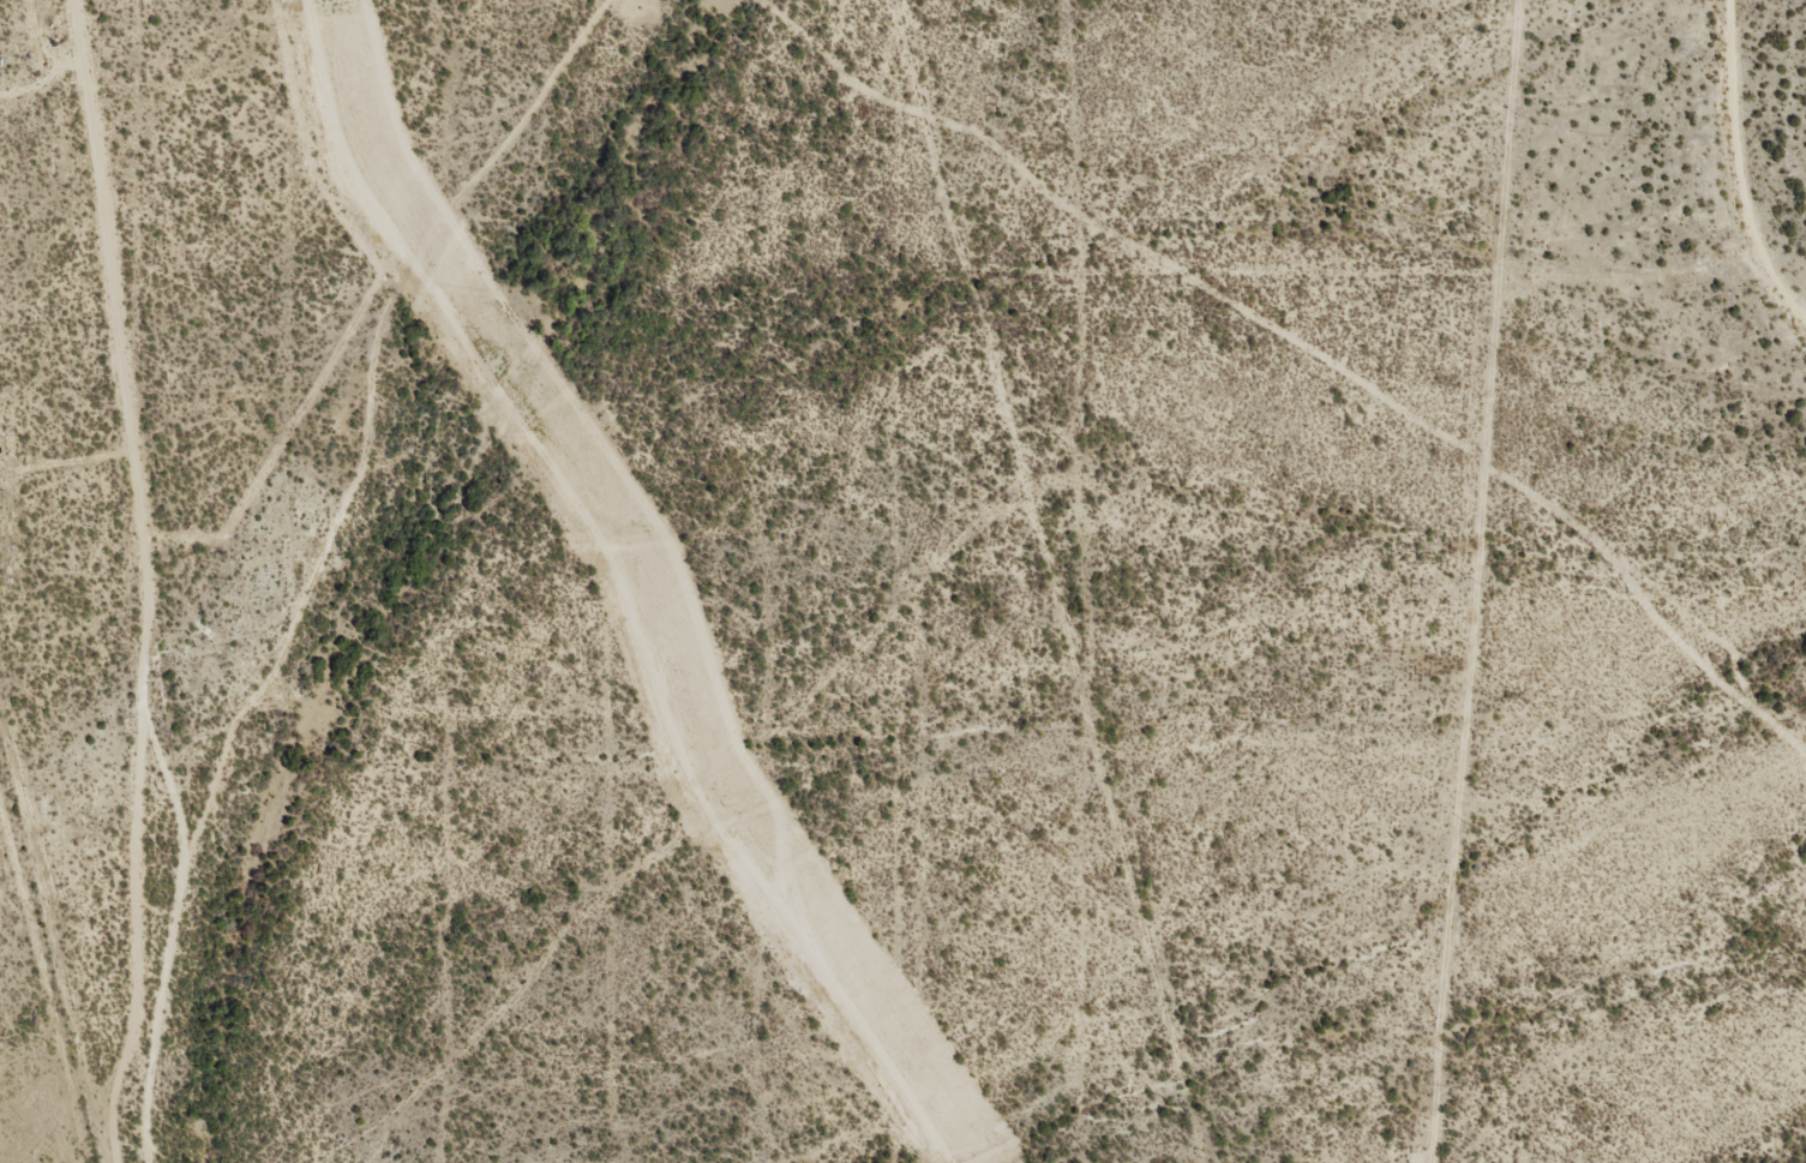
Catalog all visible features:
road: (170, 582)

